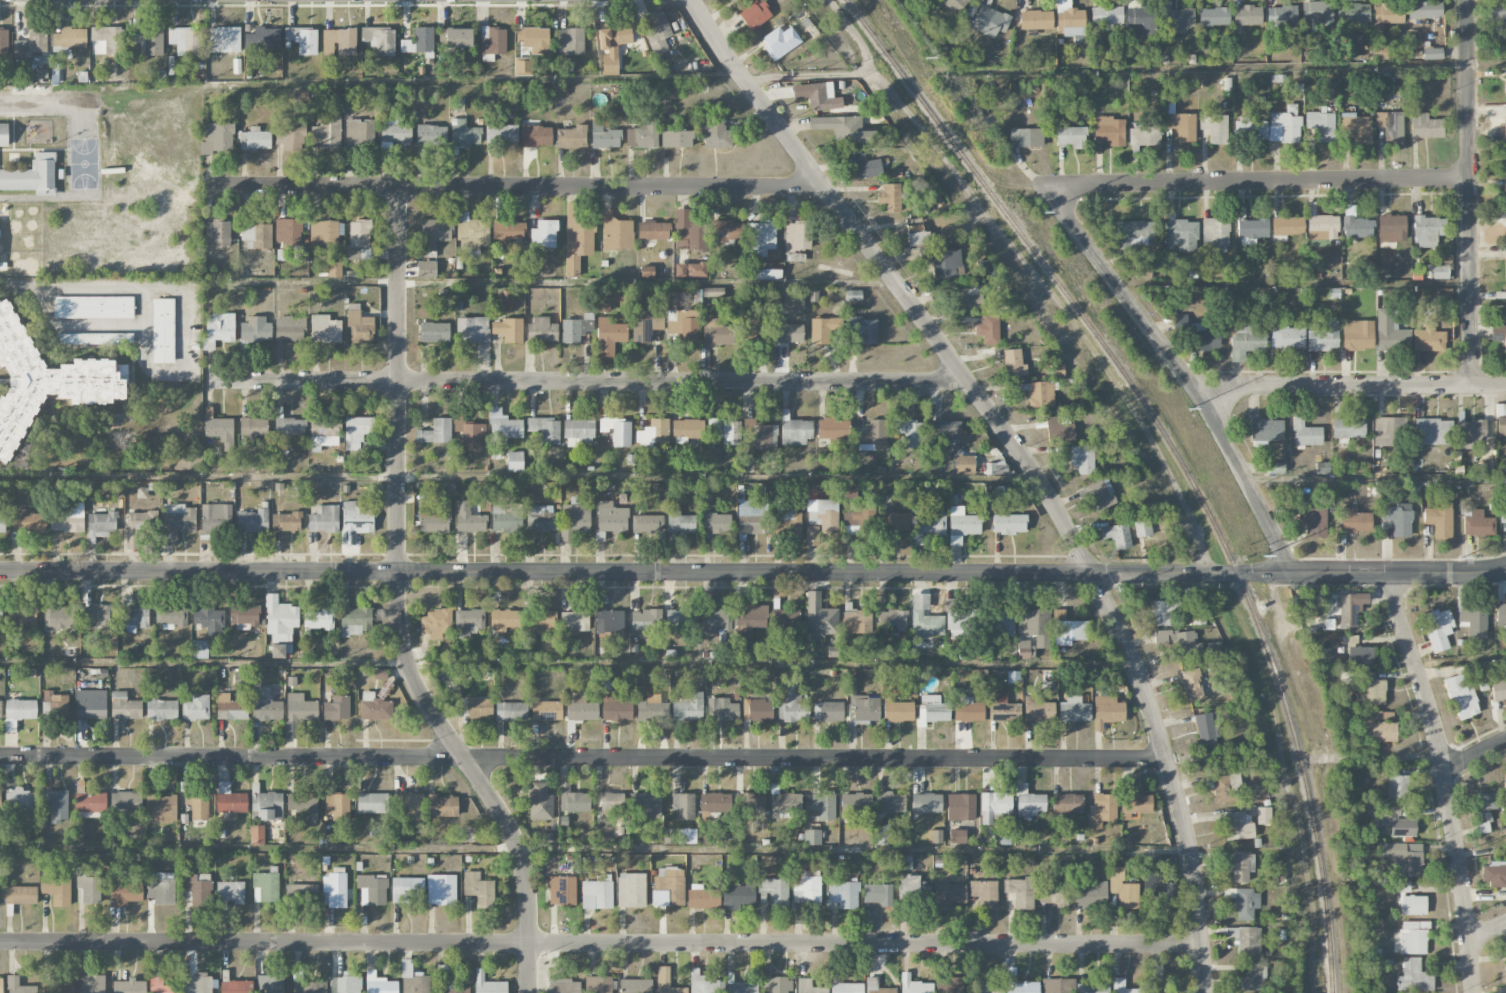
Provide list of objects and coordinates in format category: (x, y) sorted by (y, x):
building: (730, 0)
building: (955, 4)
building: (1425, 9)
building: (1317, 12)
building: (1356, 12)
building: (755, 13)
building: (1388, 13)
building: (1498, 14)
building: (1247, 15)
building: (1281, 15)
building: (1106, 16)
building: (1214, 16)
building: (1036, 19)
building: (1176, 19)
building: (990, 21)
building: (1070, 21)
building: (1140, 21)
building: (656, 31)
building: (614, 36)
building: (70, 37)
building: (459, 37)
building: (109, 38)
building: (263, 38)
building: (223, 39)
building: (303, 39)
building: (380, 39)
building: (534, 39)
building: (184, 40)
building: (419, 40)
building: (153, 41)
building: (570, 41)
building: (31, 42)
building: (339, 42)
building: (492, 42)
building: (4, 43)
building: (777, 43)
building: (1380, 52)
building: (1432, 53)
power tower: (925, 58)
building: (609, 64)
building: (522, 66)
building: (41, 75)
building: (1505, 83)
building: (301, 94)
building: (817, 95)
road: (30, 100)
building: (1181, 124)
building: (1321, 125)
building: (1390, 125)
building: (1425, 126)
building: (1214, 127)
building: (1284, 127)
building: (1357, 127)
building: (1504, 128)
building: (843, 129)
building: (1109, 130)
building: (1250, 130)
building: (292, 132)
building: (327, 132)
building: (464, 133)
building: (3, 134)
building: (502, 134)
building: (603, 134)
building: (716, 134)
building: (360, 135)
building: (393, 135)
building: (430, 135)
building: (536, 135)
building: (1071, 136)
building: (1145, 136)
building: (571, 137)
building: (642, 137)
building: (1025, 137)
building: (217, 138)
building: (676, 138)
building: (255, 139)
building: (1505, 156)
building: (866, 166)
building: (32, 176)
road: (1256, 182)
road: (511, 187)
building: (1505, 191)
road: (1469, 195)
building: (889, 196)
power tower: (1043, 212)
building: (1287, 225)
building: (1358, 227)
building: (1252, 228)
building: (1391, 228)
building: (1321, 229)
building: (653, 230)
building: (1427, 230)
building: (507, 231)
building: (687, 231)
building: (726, 231)
building: (916, 231)
building: (1505, 231)
building: (470, 232)
building: (616, 232)
building: (1135, 233)
building: (217, 234)
building: (257, 234)
building: (544, 234)
building: (1216, 234)
building: (435, 235)
building: (1182, 235)
building: (761, 236)
building: (358, 237)
building: (577, 241)
building: (796, 241)
building: (943, 261)
building: (426, 268)
building: (334, 269)
building: (696, 269)
building: (647, 271)
building: (1142, 271)
building: (1505, 271)
building: (1440, 272)
building: (767, 274)
road: (12, 283)
building: (713, 292)
building: (853, 295)
building: (969, 297)
building: (1505, 299)
building: (603, 303)
building: (93, 307)
road: (143, 319)
building: (1180, 322)
building: (359, 324)
building: (683, 324)
building: (644, 325)
building: (748, 325)
building: (219, 328)
building: (288, 328)
building: (576, 328)
building: (255, 329)
building: (325, 329)
building: (472, 329)
building: (824, 329)
building: (988, 329)
building: (162, 330)
building: (508, 330)
building: (541, 330)
building: (861, 330)
building: (434, 331)
building: (717, 332)
building: (787, 332)
building: (1390, 332)
building: (1323, 335)
building: (1357, 335)
building: (1499, 335)
building: (609, 336)
building: (1205, 336)
building: (1287, 337)
building: (104, 338)
building: (1245, 339)
building: (1428, 339)
road: (187, 349)
building: (1014, 363)
road: (1179, 372)
building: (44, 382)
road: (585, 382)
road: (1348, 389)
building: (1040, 394)
power tower: (1188, 410)
building: (898, 425)
building: (252, 427)
building: (1501, 427)
building: (289, 428)
building: (833, 428)
building: (546, 429)
building: (1348, 429)
building: (220, 430)
building: (687, 430)
building: (723, 430)
building: (1059, 430)
building: (1266, 430)
building: (1470, 430)
building: (357, 431)
building: (502, 431)
building: (617, 431)
building: (1389, 431)
building: (436, 432)
building: (469, 432)
building: (578, 432)
building: (795, 432)
building: (945, 432)
building: (1432, 432)
building: (324, 433)
building: (654, 433)
building: (1305, 433)
building: (915, 434)
building: (761, 435)
building: (872, 436)
railway: (1176, 455)
building: (1082, 458)
building: (514, 461)
road: (1023, 461)
building: (965, 464)
building: (1322, 468)
road: (398, 478)
building: (1503, 509)
building: (824, 514)
building: (179, 517)
building: (434, 518)
building: (468, 518)
building: (506, 518)
building: (541, 518)
building: (574, 518)
building: (67, 519)
building: (324, 519)
building: (766, 519)
building: (858, 519)
building: (1398, 519)
building: (1439, 519)
building: (29, 520)
building: (252, 520)
building: (610, 520)
building: (1354, 520)
building: (286, 521)
building: (355, 521)
building: (1313, 521)
building: (214, 522)
building: (680, 522)
building: (895, 522)
building: (930, 522)
building: (2, 523)
building: (718, 523)
building: (1009, 523)
building: (1478, 523)
building: (647, 524)
building: (962, 524)
building: (101, 525)
building: (137, 525)
building: (1143, 528)
building: (1117, 535)
power tower: (1263, 556)
power tower: (1460, 558)
road: (753, 575)
building: (1348, 610)
building: (1162, 613)
building: (0, 614)
building: (22, 614)
building: (171, 614)
building: (1500, 615)
building: (78, 616)
building: (244, 616)
building: (820, 617)
building: (135, 618)
building: (208, 618)
building: (319, 618)
building: (679, 618)
building: (925, 618)
building: (280, 619)
building: (540, 619)
building: (716, 619)
building: (504, 620)
building: (575, 620)
building: (645, 620)
building: (892, 620)
building: (356, 621)
building: (786, 621)
building: (856, 621)
building: (1473, 621)
building: (467, 622)
building: (609, 622)
building: (1002, 622)
building: (1033, 622)
building: (436, 623)
building: (747, 624)
building: (961, 624)
building: (1437, 628)
building: (1068, 629)
building: (1180, 642)
building: (199, 649)
building: (1024, 649)
building: (280, 650)
building: (1360, 656)
building: (1117, 684)
building: (1192, 685)
building: (1373, 690)
building: (1499, 690)
building: (1462, 697)
building: (268, 703)
building: (90, 704)
building: (792, 705)
building: (861, 705)
building: (0, 706)
building: (125, 706)
building: (232, 706)
building: (300, 707)
building: (374, 707)
building: (196, 708)
building: (336, 708)
building: (480, 708)
building: (689, 708)
building: (933, 708)
building: (161, 709)
building: (581, 709)
building: (615, 709)
building: (652, 709)
building: (1003, 709)
building: (1037, 709)
building: (1074, 709)
building: (546, 710)
building: (757, 710)
building: (968, 710)
building: (19, 711)
building: (511, 711)
building: (721, 711)
building: (829, 711)
building: (898, 711)
building: (1107, 711)
building: (1380, 726)
building: (1205, 729)
road: (1475, 757)
road: (231, 758)
road: (465, 758)
road: (816, 759)
road: (1446, 780)
building: (1504, 786)
building: (1397, 787)
building: (1222, 789)
building: (230, 799)
building: (572, 799)
building: (19, 800)
building: (125, 801)
building: (90, 802)
building: (540, 802)
building: (714, 802)
building: (749, 802)
building: (890, 802)
building: (1029, 802)
building: (57, 803)
building: (372, 803)
building: (785, 803)
building: (926, 803)
building: (1066, 803)
building: (1135, 803)
building: (197, 804)
building: (630, 804)
building: (442, 805)
building: (684, 805)
building: (303, 806)
building: (337, 806)
building: (823, 806)
building: (995, 806)
building: (1484, 806)
building: (411, 807)
building: (857, 807)
building: (960, 807)
building: (161, 808)
building: (1102, 809)
building: (1396, 821)
building: (1238, 826)
building: (256, 834)
building: (882, 834)
building: (687, 836)
building: (935, 836)
building: (957, 836)
building: (812, 837)
road: (1481, 838)
building: (1401, 858)
building: (906, 862)
building: (1241, 865)
road: (524, 869)
building: (1494, 874)
building: (87, 886)
building: (1158, 886)
building: (1402, 886)
building: (160, 887)
building: (265, 887)
building: (668, 887)
building: (806, 887)
building: (197, 888)
building: (334, 888)
building: (406, 888)
building: (441, 889)
building: (479, 889)
building: (913, 889)
building: (1122, 889)
building: (372, 890)
building: (562, 890)
building: (631, 890)
building: (57, 891)
building: (773, 891)
building: (1021, 892)
building: (229, 893)
building: (301, 893)
building: (984, 893)
building: (1090, 893)
building: (125, 894)
building: (596, 894)
building: (842, 894)
building: (878, 894)
building: (947, 894)
building: (1052, 894)
building: (20, 895)
building: (738, 895)
building: (702, 897)
building: (1244, 902)
building: (1413, 905)
road: (1487, 932)
building: (1413, 937)
building: (1246, 939)
road: (600, 944)
building: (1505, 972)
building: (1252, 976)
building: (1414, 976)
building: (774, 981)
building: (415, 982)
building: (667, 982)
building: (872, 982)
building: (198, 983)
building: (270, 983)
building: (1019, 983)
building: (379, 984)
building: (488, 984)
building: (598, 984)
building: (952, 984)
building: (1, 985)
building: (81, 985)
building: (635, 985)
building: (915, 985)
building: (1058, 985)
building: (22, 986)
building: (129, 986)
building: (236, 986)
building: (341, 986)
building: (808, 986)
building: (986, 986)
building: (309, 987)
building: (452, 988)
building: (846, 988)
building: (1093, 988)

